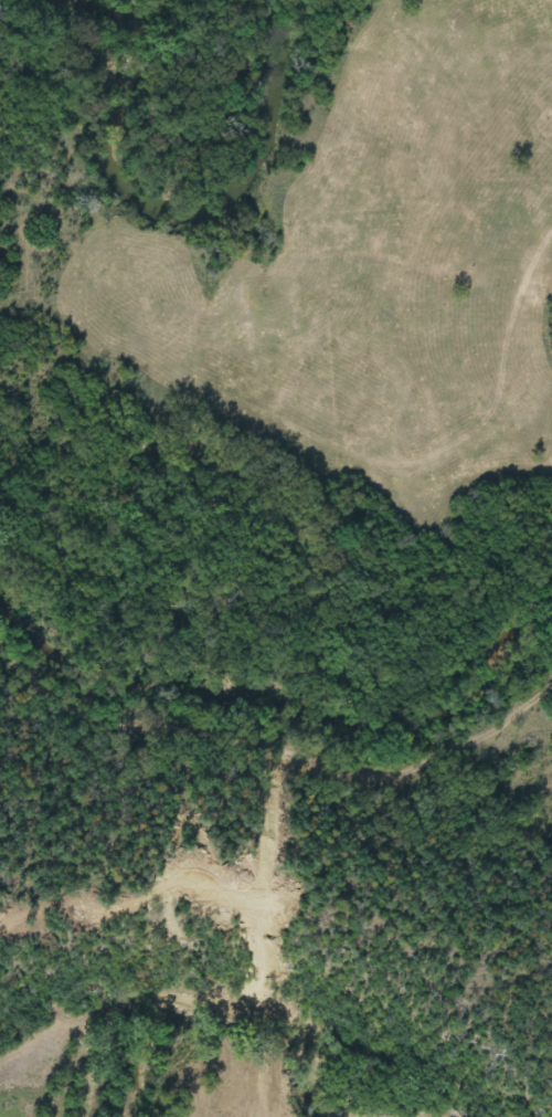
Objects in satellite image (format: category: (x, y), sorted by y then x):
road: (273, 733)

